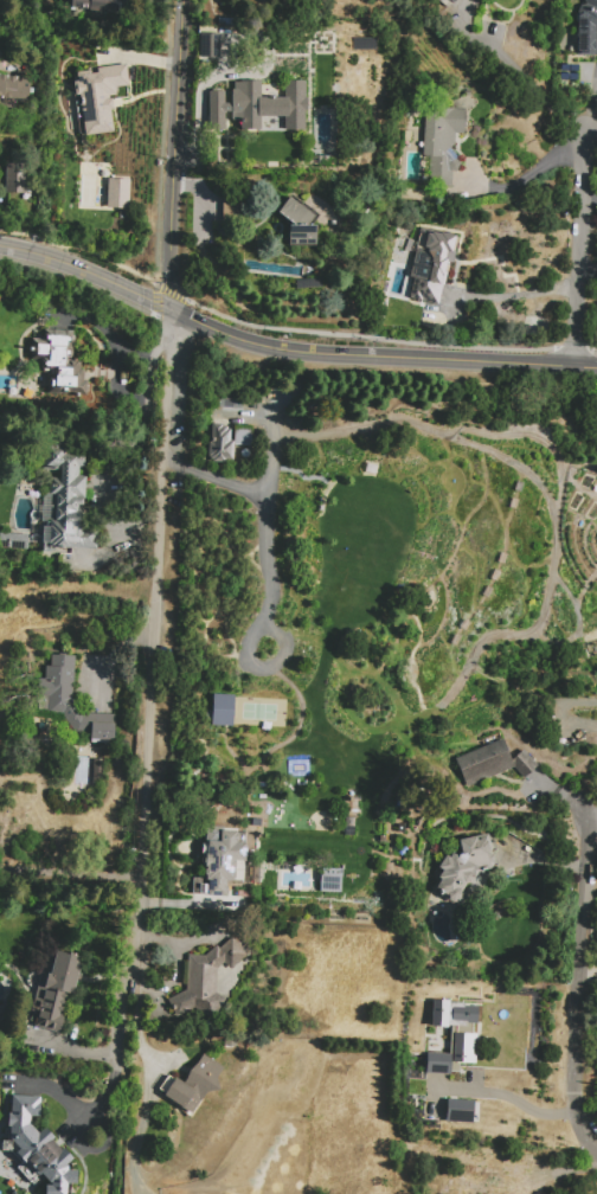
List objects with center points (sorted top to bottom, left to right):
building: (451, 0)
building: (454, 0)
building: (97, 5)
building: (586, 27)
building: (210, 45)
road: (525, 79)
building: (15, 86)
building: (97, 97)
building: (258, 105)
road: (591, 111)
road: (591, 129)
building: (442, 140)
road: (173, 154)
road: (532, 173)
building: (15, 178)
building: (416, 192)
building: (118, 193)
building: (297, 224)
road: (577, 249)
building: (431, 264)
building: (309, 283)
road: (514, 296)
road: (115, 341)
road: (288, 349)
building: (59, 364)
building: (243, 436)
building: (220, 442)
building: (243, 449)
road: (214, 477)
building: (68, 497)
building: (13, 541)
road: (270, 584)
road: (153, 636)
building: (60, 700)
building: (220, 710)
building: (571, 737)
building: (492, 760)
building: (249, 839)
building: (220, 859)
building: (464, 866)
road: (71, 877)
building: (328, 882)
building: (207, 978)
road: (576, 989)
building: (56, 990)
building: (450, 1013)
road: (117, 1015)
building: (463, 1047)
building: (436, 1063)
road: (121, 1078)
building: (192, 1084)
road: (503, 1096)
road: (103, 1100)
building: (457, 1110)
building: (39, 1145)
building: (500, 1175)

